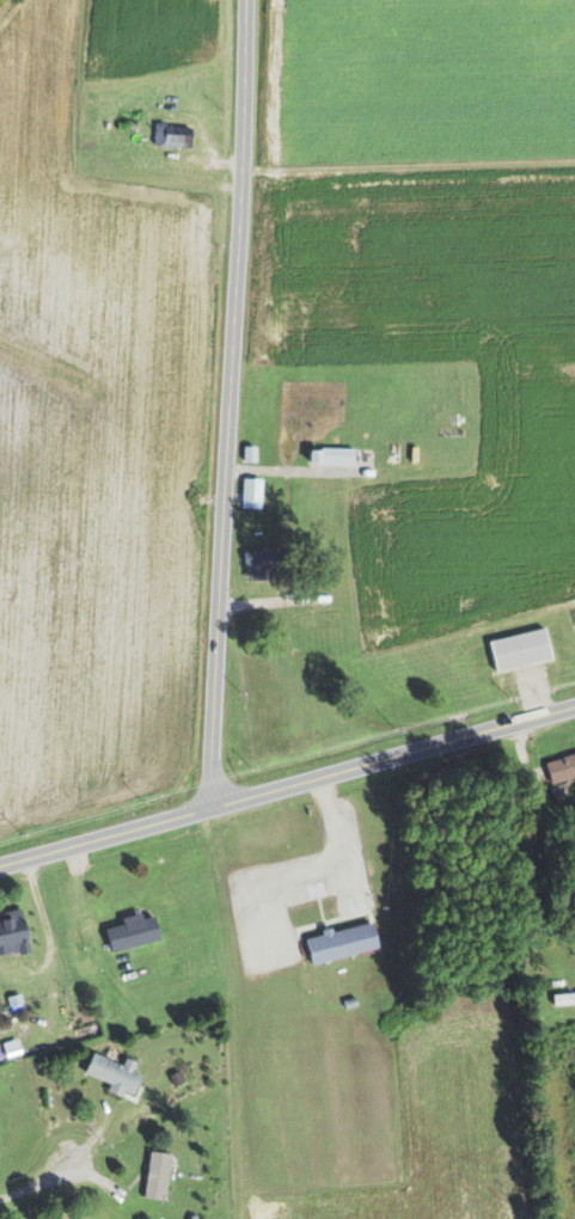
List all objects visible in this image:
building: (171, 136)
road: (218, 404)
building: (251, 453)
building: (334, 457)
building: (252, 492)
building: (261, 565)
building: (521, 649)
road: (391, 758)
building: (561, 768)
road: (103, 838)
building: (12, 927)
road: (49, 932)
building: (134, 932)
building: (343, 943)
building: (564, 997)
building: (116, 1072)
building: (158, 1174)
road: (37, 1180)

